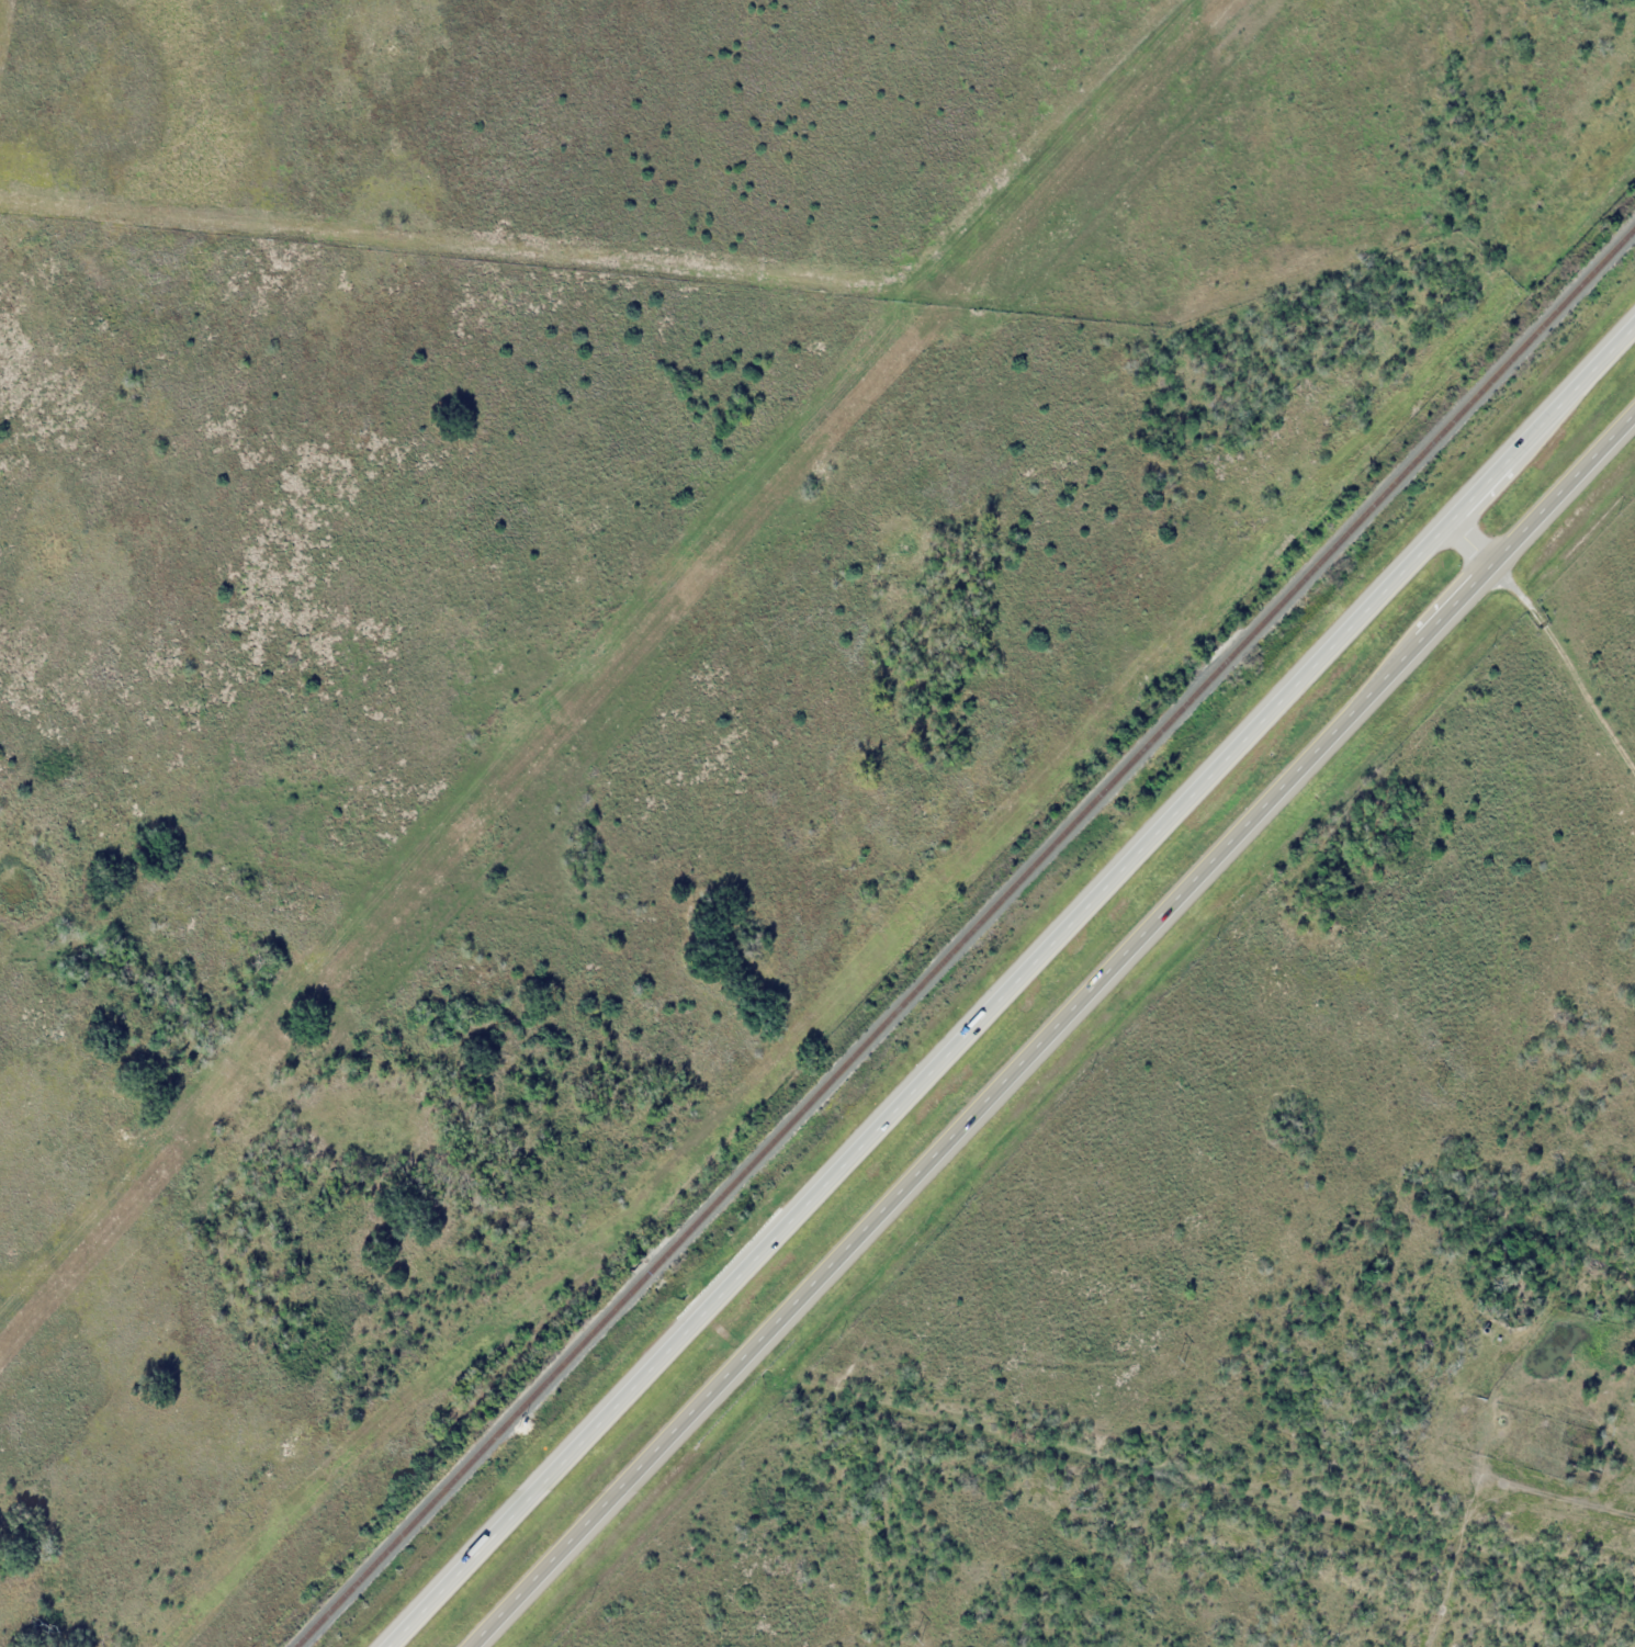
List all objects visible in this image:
road: (1549, 663)
railway: (965, 936)
road: (1018, 995)
road: (1056, 1042)
power tower: (1437, 1087)
power tower: (1181, 1362)
power tower: (916, 1638)

